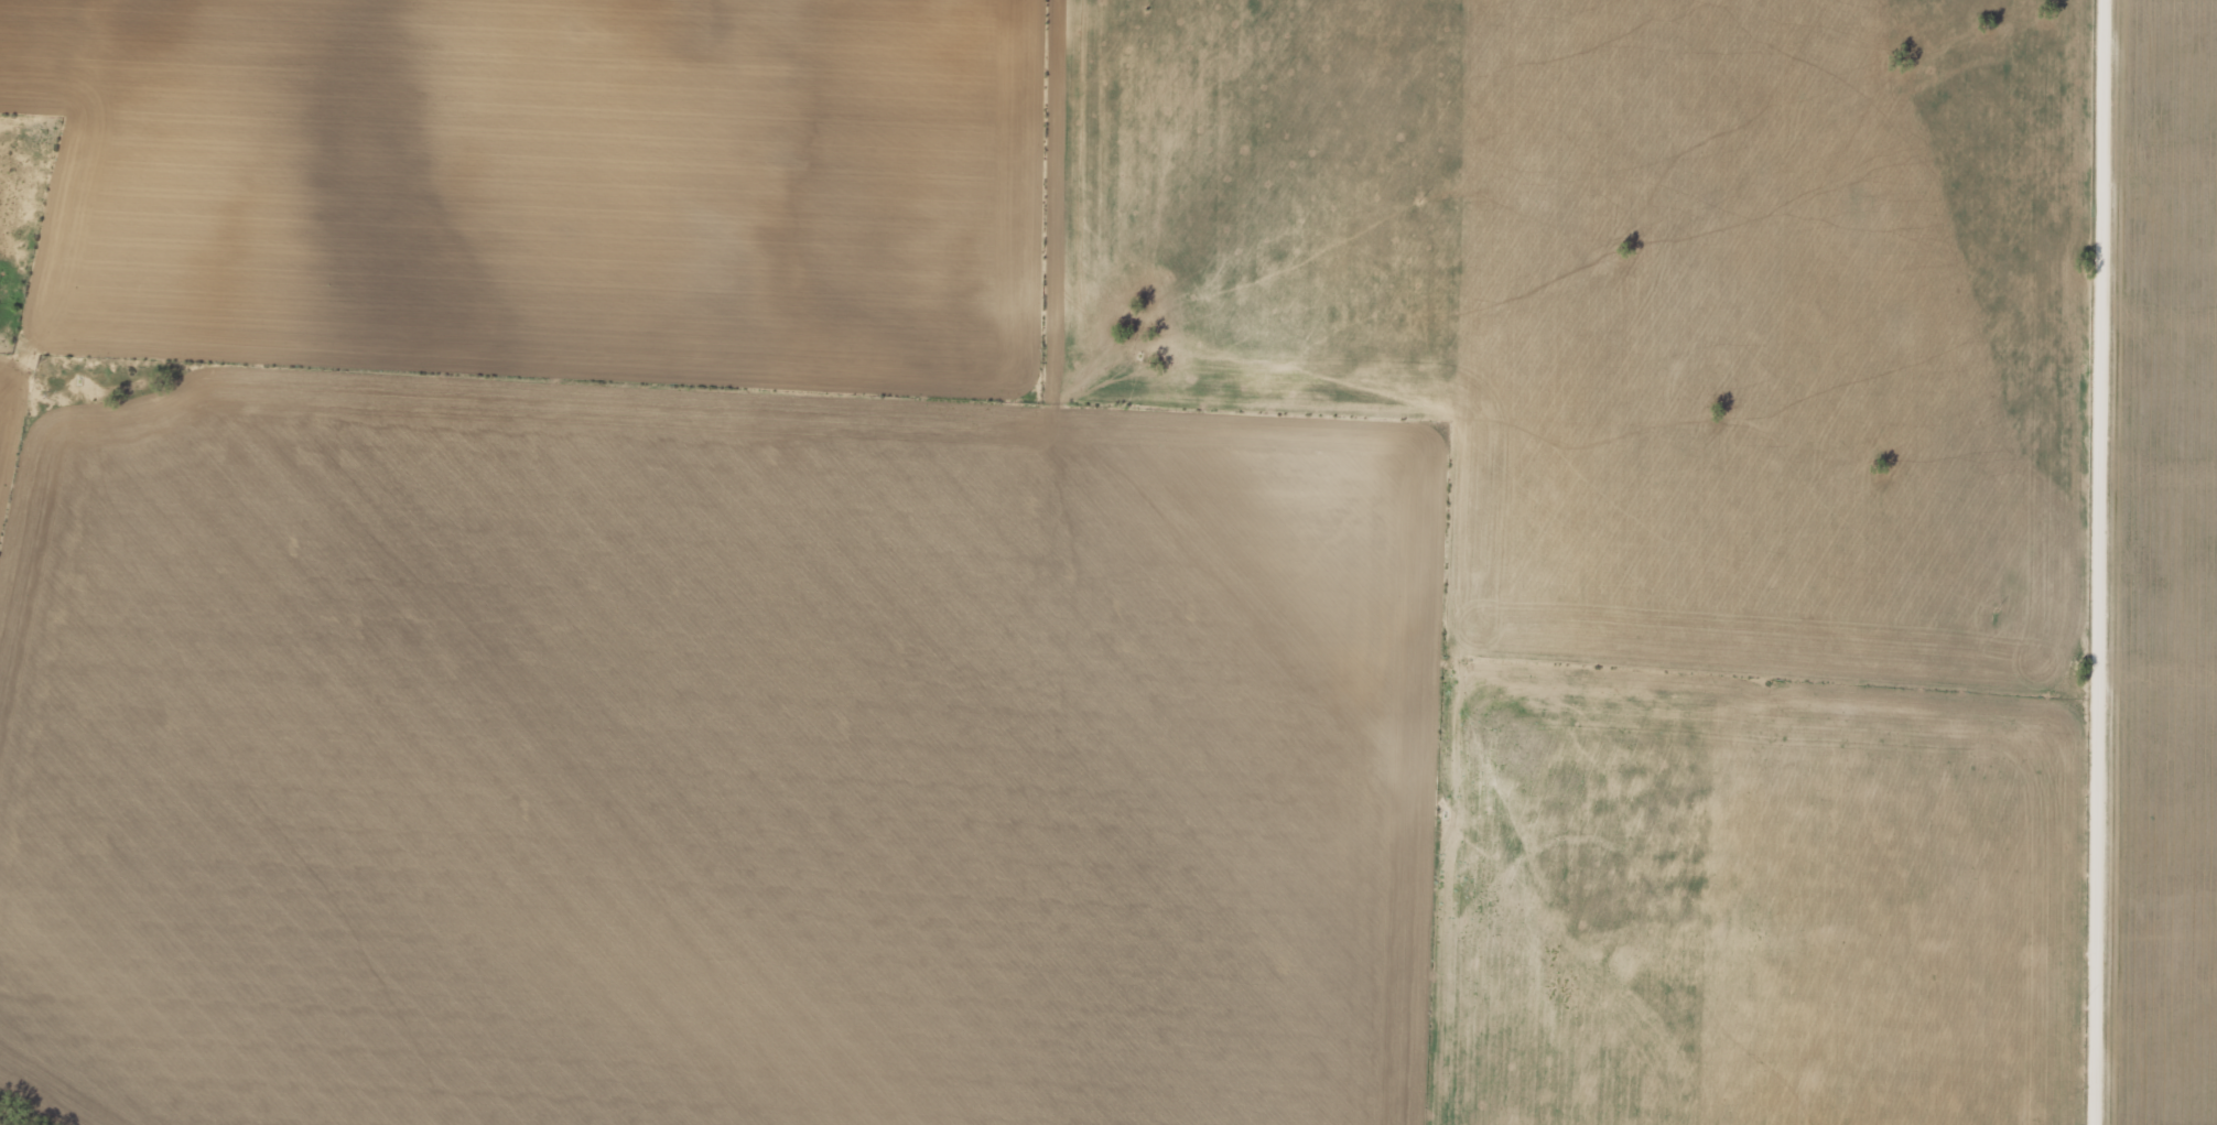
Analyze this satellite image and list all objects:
road: (55, 19)
road: (2113, 562)

